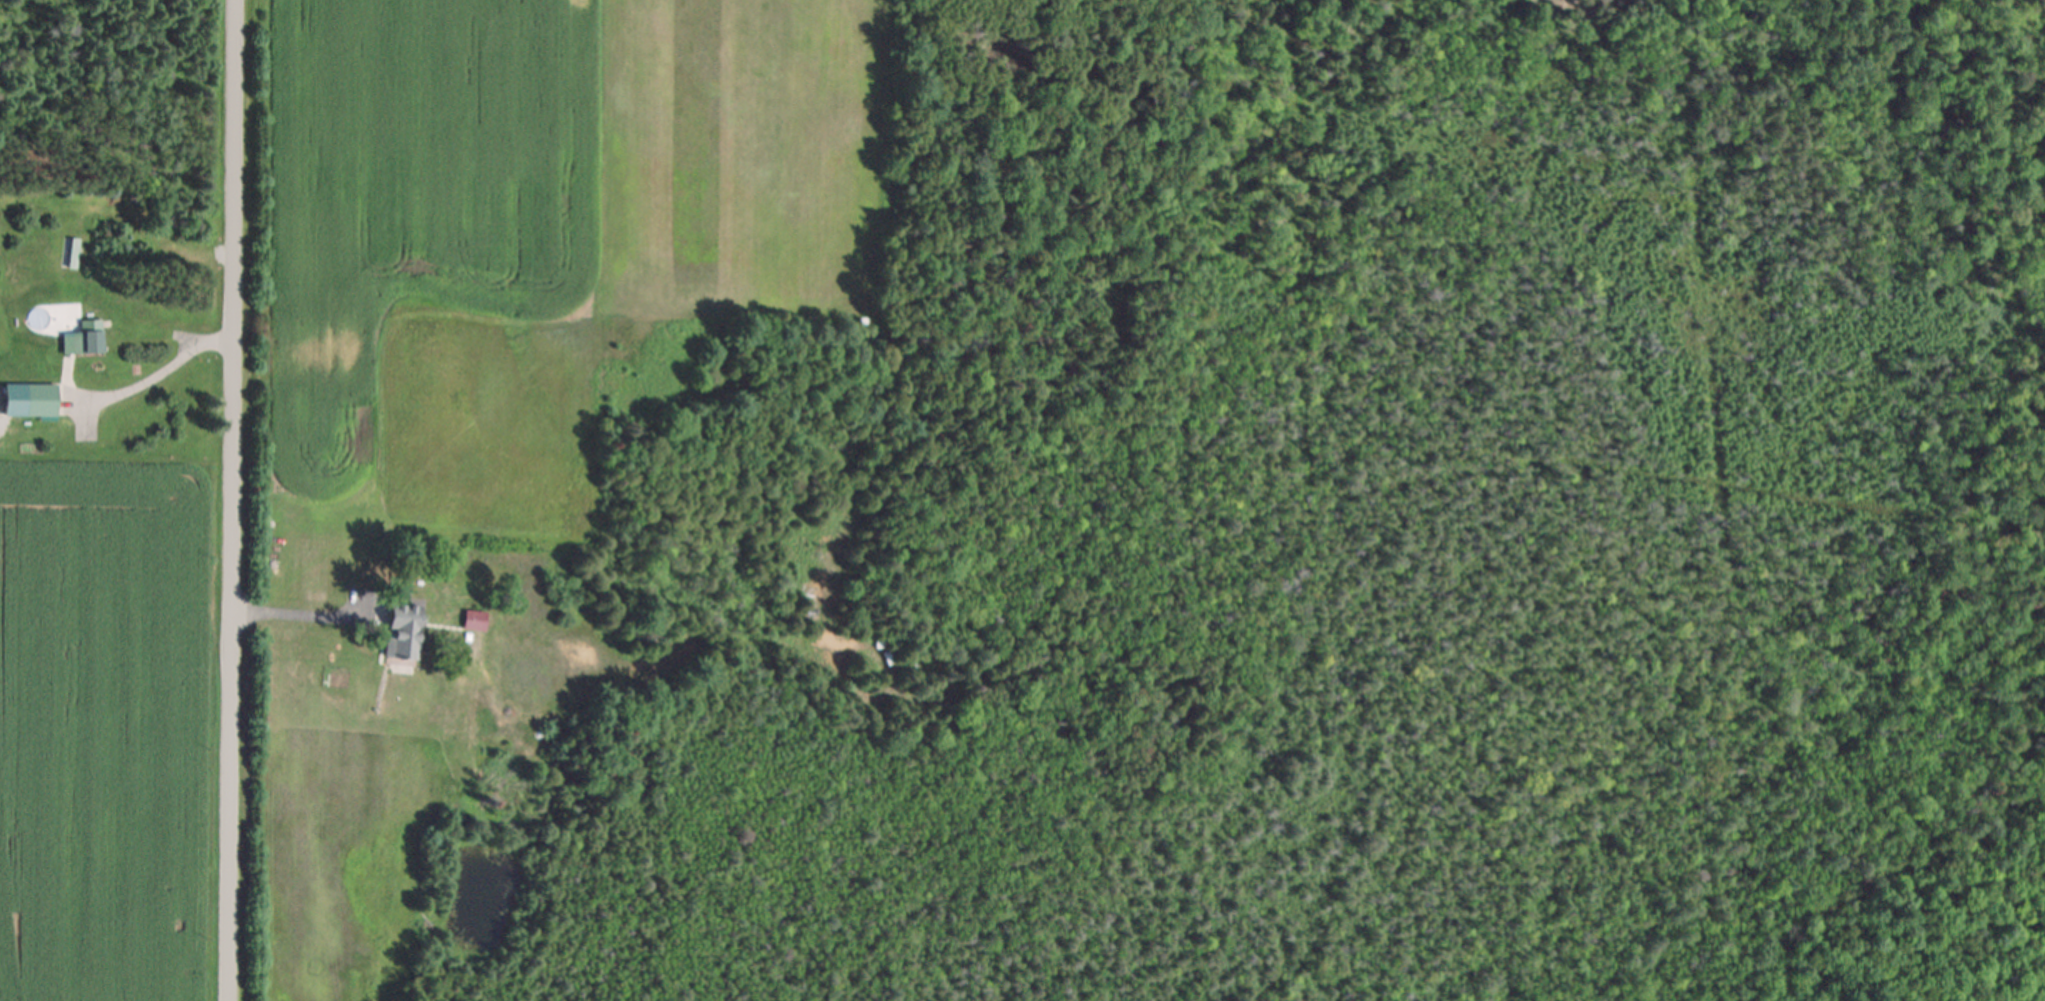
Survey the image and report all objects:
building: (85, 338)
road: (161, 371)
building: (37, 401)
road: (231, 500)
road: (293, 615)
building: (471, 621)
building: (397, 634)

